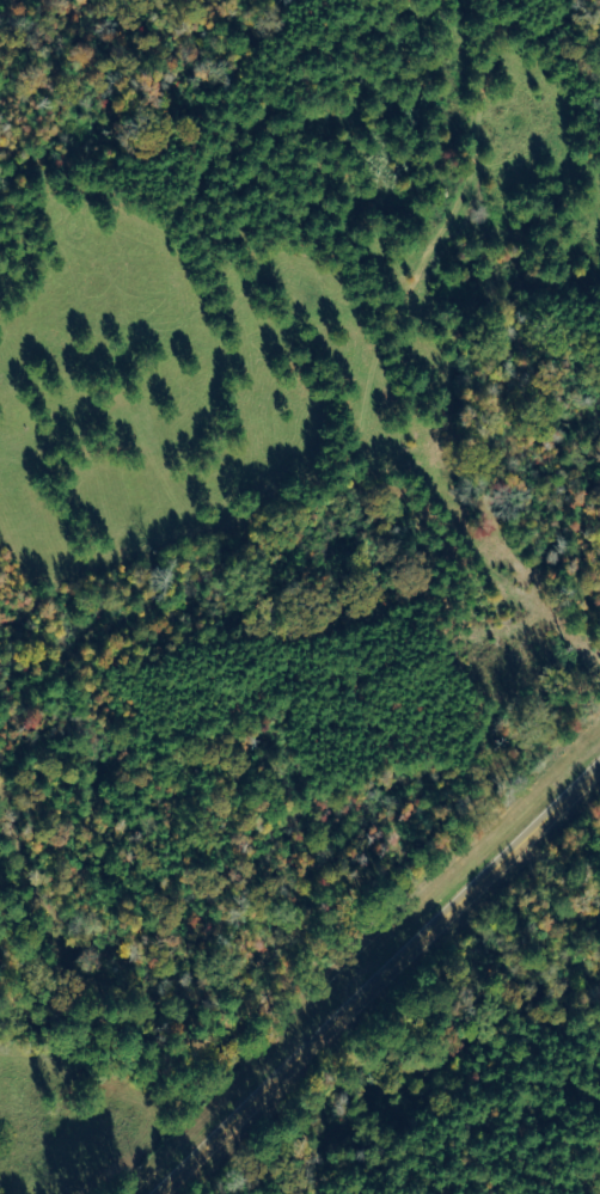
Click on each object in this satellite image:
road: (379, 980)

